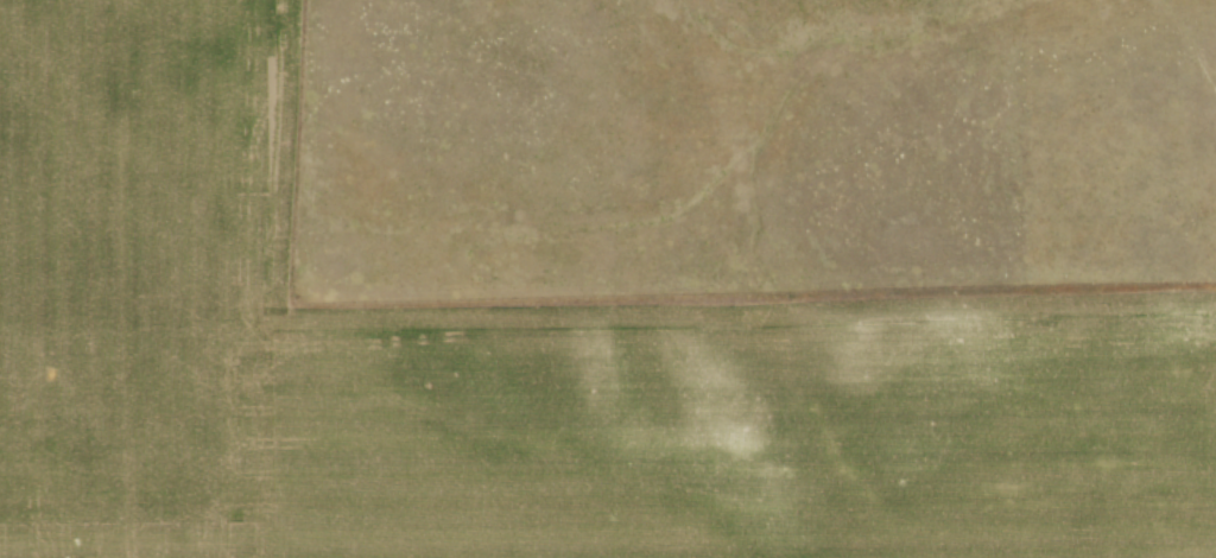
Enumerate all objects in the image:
crop: (511, 366)

